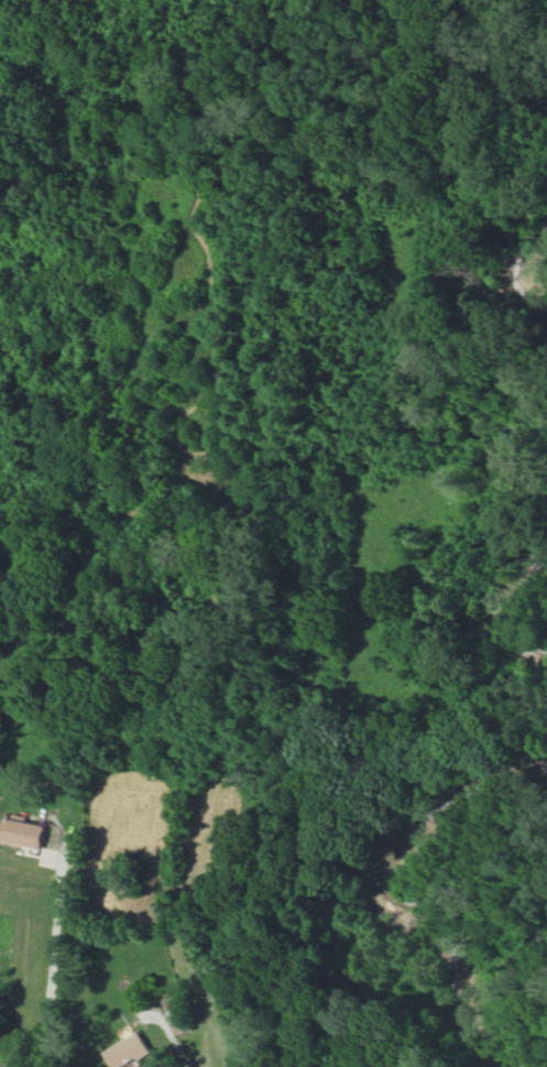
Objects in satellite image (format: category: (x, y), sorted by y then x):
building: (23, 832)
road: (52, 955)
building: (178, 1011)
road: (169, 1034)
building: (128, 1050)

